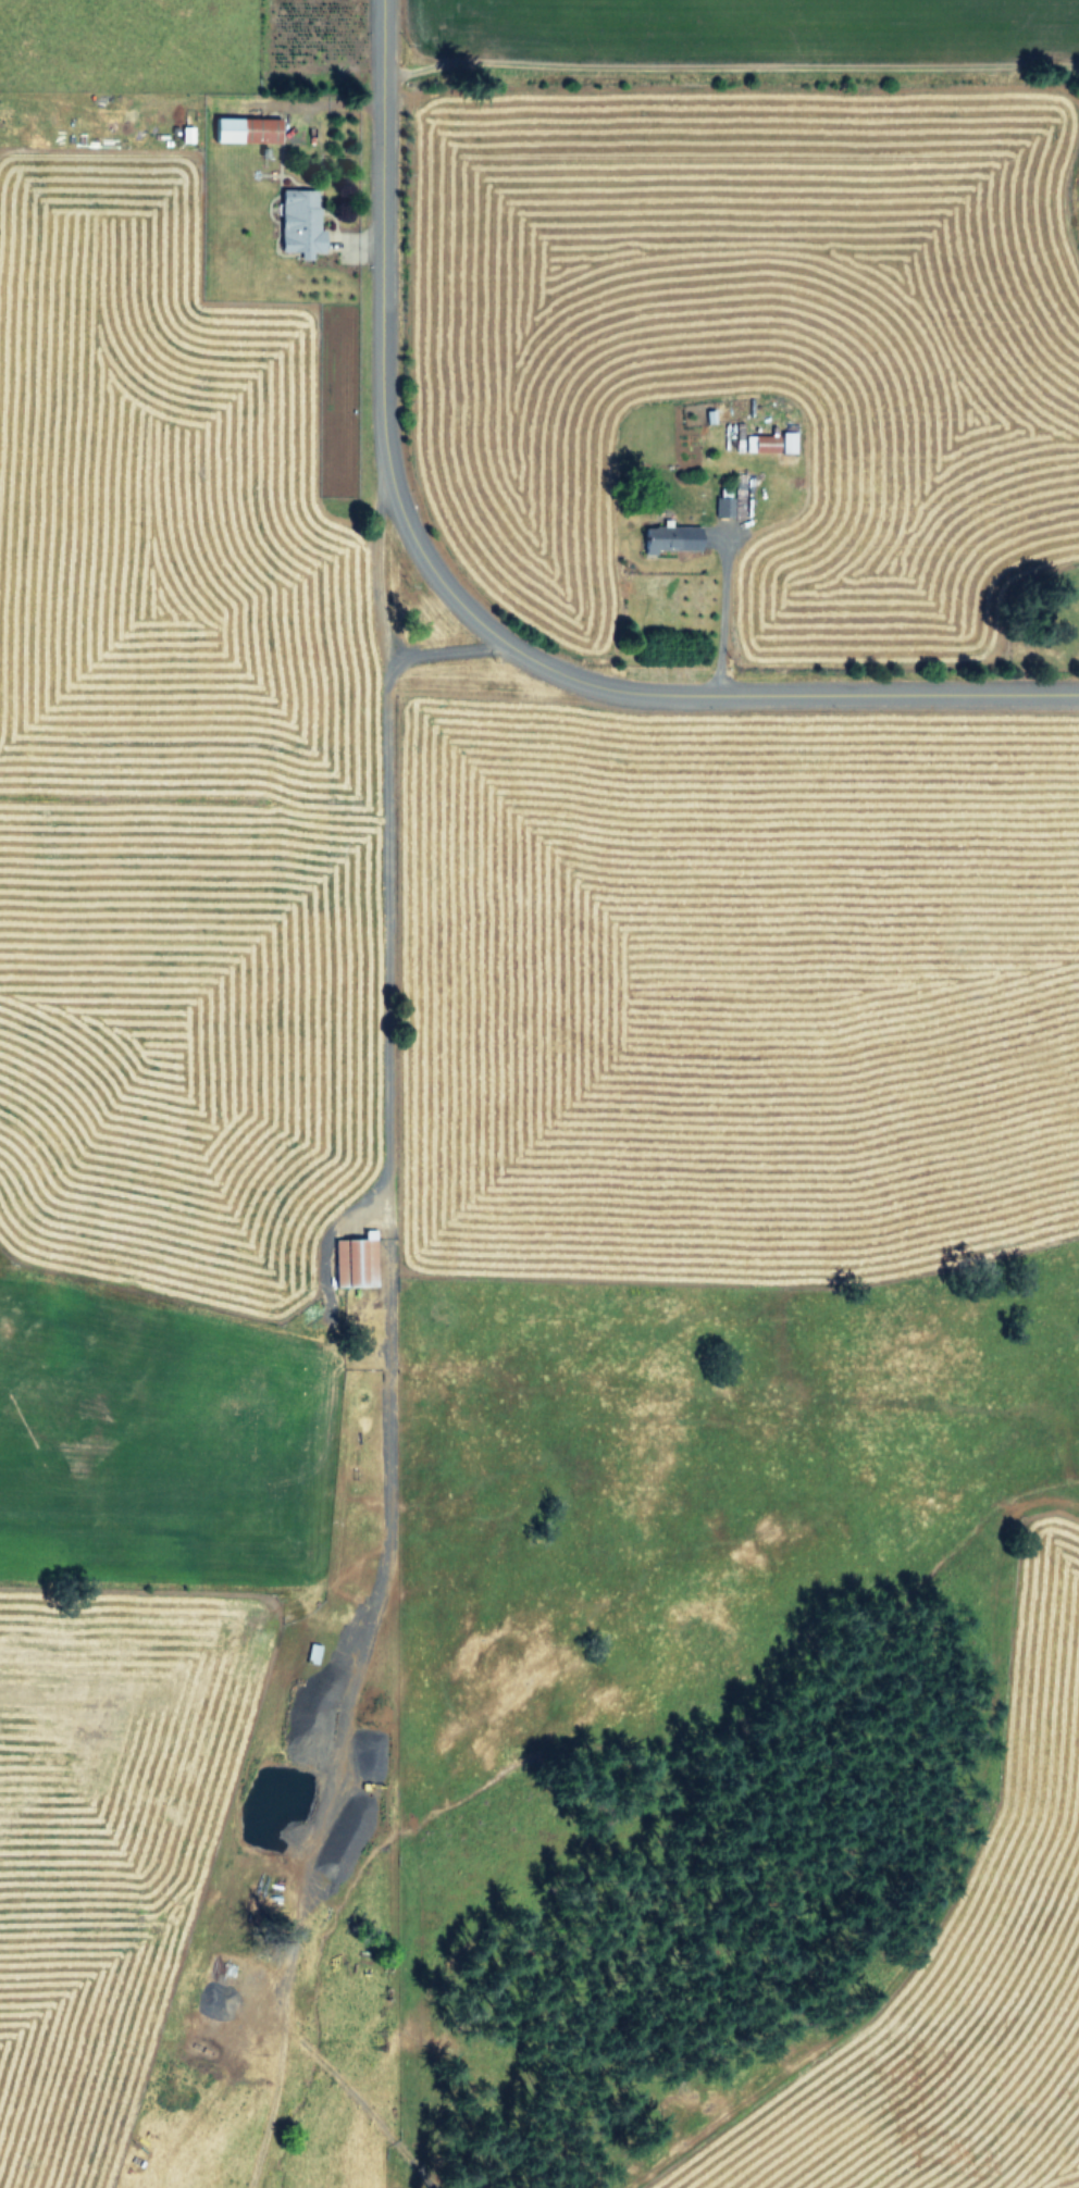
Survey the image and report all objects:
road: (729, 67)
building: (246, 129)
building: (300, 222)
road: (377, 235)
building: (787, 440)
building: (761, 442)
building: (671, 537)
road: (719, 616)
road: (447, 654)
road: (678, 695)
road: (382, 854)
crop: (460, 1222)
building: (356, 1260)
road: (1045, 1505)
road: (328, 1712)

